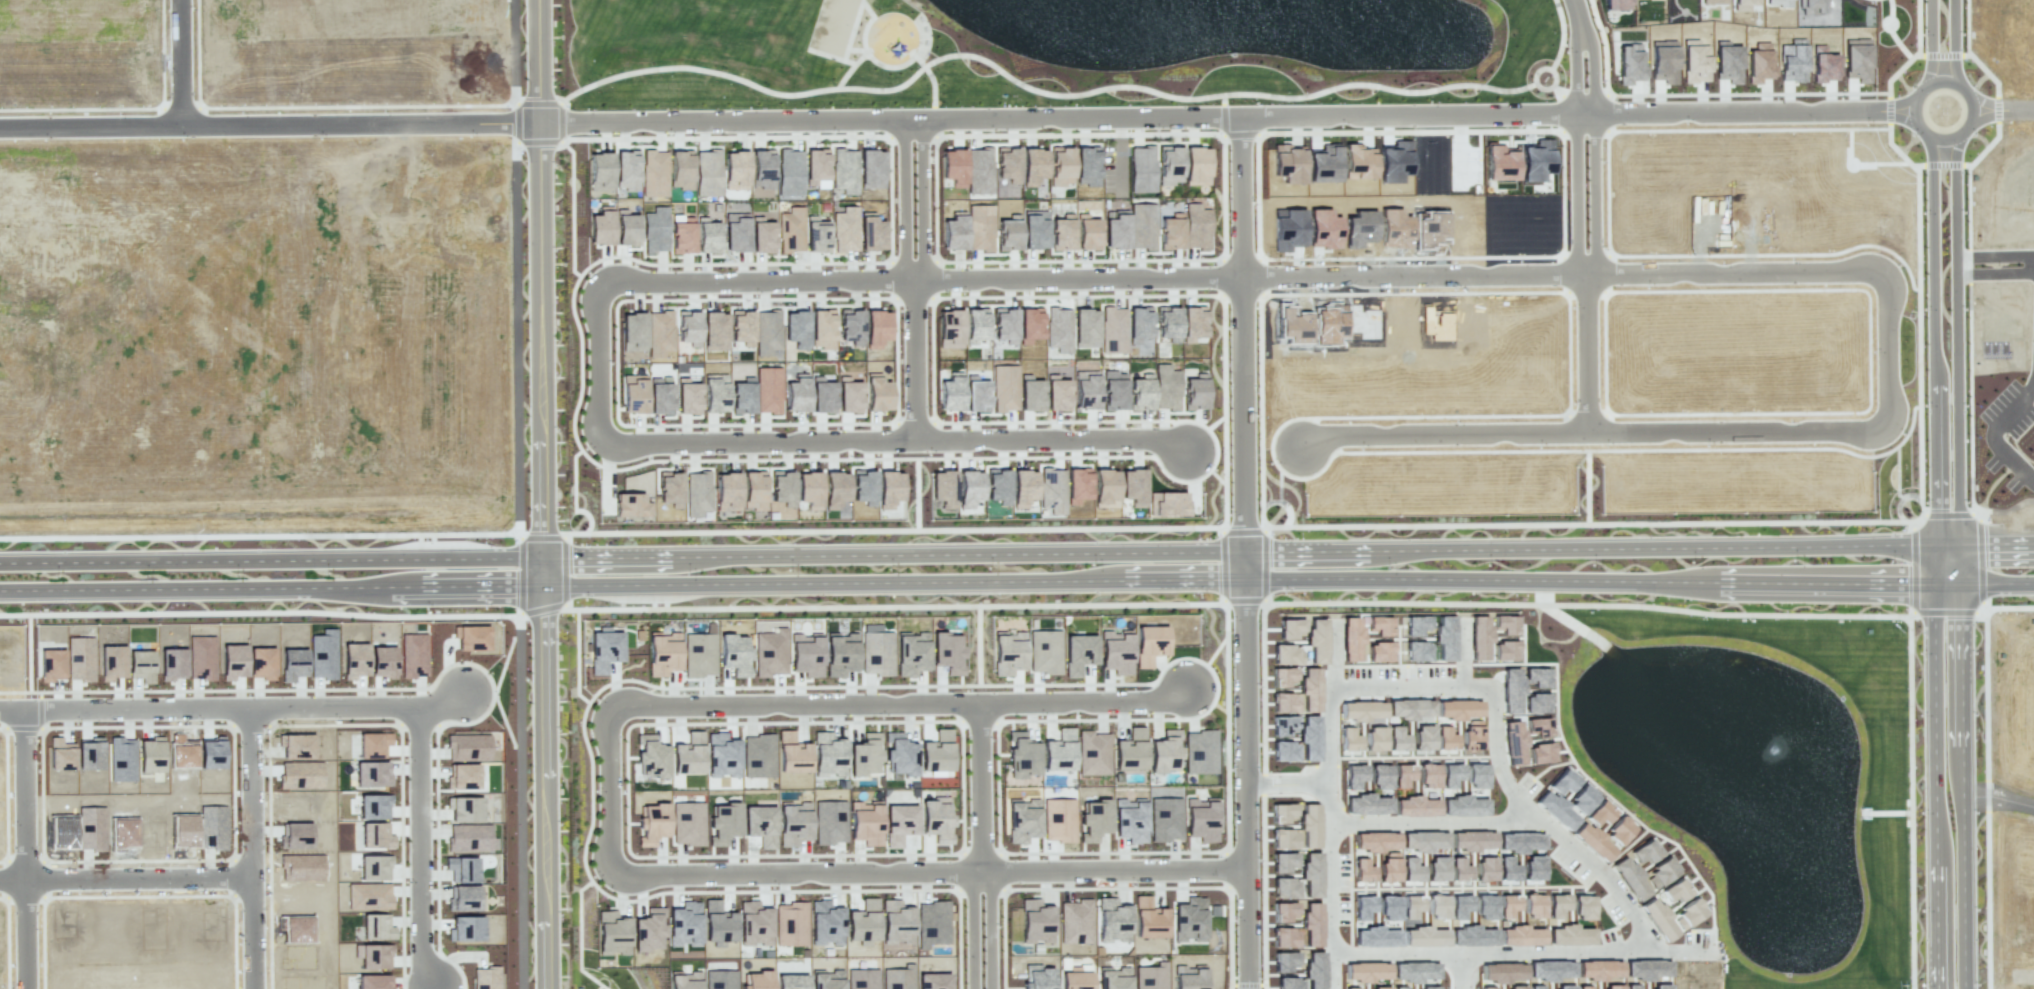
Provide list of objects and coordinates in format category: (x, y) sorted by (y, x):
building: (1713, 1)
building: (1777, 3)
building: (1616, 4)
building: (1743, 4)
building: (1811, 7)
road: (1931, 40)
road: (1953, 40)
road: (1585, 57)
building: (1856, 59)
building: (1792, 60)
building: (1663, 61)
building: (1694, 61)
building: (1727, 62)
building: (1758, 63)
road: (180, 64)
building: (1823, 64)
building: (1628, 65)
road: (1973, 110)
road: (2003, 112)
road: (1224, 119)
road: (268, 127)
building: (1536, 159)
building: (1358, 161)
building: (1394, 161)
building: (1500, 162)
building: (1288, 163)
building: (1323, 163)
building: (1007, 164)
building: (1086, 165)
building: (1169, 165)
building: (953, 166)
building: (1033, 166)
building: (1195, 166)
building: (816, 167)
building: (626, 168)
building: (680, 168)
building: (762, 168)
building: (871, 169)
building: (1142, 169)
building: (736, 170)
building: (980, 170)
building: (600, 171)
building: (845, 171)
building: (654, 173)
building: (708, 173)
building: (790, 173)
building: (1061, 174)
road: (1953, 198)
building: (601, 226)
building: (1142, 226)
building: (1196, 226)
building: (980, 227)
building: (626, 228)
building: (1359, 228)
building: (1394, 228)
building: (791, 229)
building: (845, 229)
building: (1034, 229)
building: (1115, 229)
building: (1287, 229)
building: (1323, 229)
building: (655, 230)
building: (1086, 230)
building: (871, 232)
building: (954, 232)
building: (1171, 232)
building: (682, 234)
building: (736, 234)
building: (816, 234)
building: (1008, 234)
building: (1062, 234)
building: (708, 236)
building: (764, 239)
road: (1993, 257)
road: (1737, 271)
road: (1587, 273)
road: (1993, 274)
road: (1413, 276)
road: (919, 284)
road: (1079, 285)
road: (760, 292)
building: (765, 322)
building: (1138, 323)
building: (1193, 323)
building: (1029, 324)
building: (1167, 324)
building: (975, 325)
building: (1293, 325)
building: (1328, 325)
building: (742, 326)
building: (850, 326)
building: (1003, 326)
building: (687, 327)
building: (716, 328)
building: (796, 328)
building: (876, 328)
building: (822, 329)
building: (949, 329)
building: (1058, 329)
building: (1113, 329)
building: (1087, 330)
building: (633, 331)
building: (660, 332)
road: (1889, 349)
road: (602, 374)
building: (1004, 388)
building: (1085, 389)
building: (1155, 389)
building: (768, 390)
building: (1113, 390)
building: (950, 392)
building: (1195, 392)
building: (634, 393)
building: (877, 393)
building: (1030, 393)
building: (1056, 393)
building: (715, 394)
building: (660, 395)
building: (796, 395)
building: (849, 395)
building: (976, 395)
building: (742, 396)
building: (823, 396)
building: (687, 397)
road: (1739, 430)
road: (1443, 434)
road: (1993, 435)
road: (1058, 448)
road: (762, 451)
building: (1077, 484)
building: (997, 485)
building: (863, 486)
building: (1133, 486)
building: (782, 487)
building: (1023, 487)
building: (1105, 487)
building: (670, 488)
building: (888, 488)
building: (942, 488)
building: (968, 488)
building: (809, 489)
building: (834, 489)
building: (753, 490)
building: (1052, 490)
building: (727, 491)
building: (697, 493)
road: (542, 494)
building: (1167, 504)
building: (632, 505)
road: (1017, 551)
road: (1244, 553)
road: (1930, 564)
road: (980, 581)
road: (1997, 583)
road: (1959, 623)
building: (1504, 624)
building: (1378, 625)
building: (1415, 625)
building: (1289, 628)
building: (471, 637)
building: (1478, 637)
building: (1349, 638)
building: (1444, 638)
building: (1315, 641)
building: (1149, 644)
building: (604, 650)
building: (1504, 650)
building: (876, 651)
building: (1044, 651)
building: (1115, 651)
building: (1378, 651)
building: (1416, 651)
building: (770, 652)
building: (947, 652)
building: (1007, 652)
building: (662, 653)
building: (840, 653)
building: (1078, 653)
building: (323, 654)
building: (700, 654)
building: (734, 654)
building: (806, 654)
building: (910, 654)
building: (1285, 654)
building: (413, 655)
building: (201, 657)
building: (80, 658)
building: (353, 660)
building: (232, 661)
building: (382, 661)
building: (112, 662)
building: (261, 662)
building: (172, 663)
building: (51, 664)
building: (293, 664)
building: (140, 665)
building: (1282, 676)
building: (1536, 677)
road: (1405, 684)
building: (1308, 690)
building: (1510, 690)
road: (11, 702)
road: (139, 702)
building: (1282, 702)
road: (358, 705)
building: (1410, 708)
building: (1458, 709)
building: (1361, 710)
road: (1090, 713)
road: (800, 716)
building: (1282, 725)
road: (1327, 734)
building: (1308, 737)
building: (1471, 737)
building: (1422, 738)
building: (1445, 738)
building: (1348, 739)
building: (1396, 739)
building: (1513, 742)
building: (372, 744)
building: (296, 746)
building: (468, 747)
building: (1130, 750)
building: (182, 751)
building: (1163, 751)
building: (1200, 751)
building: (1283, 751)
building: (211, 752)
building: (936, 752)
building: (1059, 752)
building: (1092, 752)
building: (89, 753)
building: (828, 753)
building: (899, 753)
building: (60, 754)
building: (688, 754)
building: (792, 754)
building: (1022, 754)
building: (150, 755)
building: (721, 755)
building: (758, 755)
building: (864, 755)
building: (651, 757)
building: (122, 759)
building: (371, 773)
building: (300, 774)
building: (1450, 774)
building: (1353, 775)
building: (1401, 775)
building: (1427, 775)
building: (1476, 775)
building: (462, 776)
building: (1379, 776)
road: (1285, 783)
building: (1551, 797)
road: (1997, 800)
road: (616, 801)
building: (1366, 804)
building: (372, 806)
building: (1414, 806)
building: (1463, 806)
building: (464, 809)
building: (1281, 812)
building: (1599, 814)
building: (1164, 818)
building: (936, 819)
building: (1058, 819)
building: (1130, 819)
building: (1201, 819)
building: (1022, 820)
building: (1093, 820)
building: (723, 822)
building: (792, 822)
building: (830, 822)
building: (865, 822)
building: (652, 823)
building: (688, 823)
road: (1433, 823)
building: (899, 824)
building: (759, 825)
building: (1308, 826)
building: (213, 827)
road: (1545, 827)
building: (91, 828)
building: (184, 830)
building: (1618, 830)
building: (63, 831)
building: (123, 832)
building: (375, 835)
building: (295, 836)
building: (470, 838)
building: (1283, 838)
building: (1471, 840)
building: (1374, 841)
building: (1422, 841)
building: (1592, 841)
building: (1518, 842)
road: (25, 845)
road: (253, 845)
road: (419, 848)
road: (985, 852)
building: (1643, 852)
building: (1282, 861)
building: (372, 867)
building: (1388, 867)
building: (300, 868)
building: (1436, 868)
building: (1484, 868)
building: (1533, 868)
building: (461, 869)
road: (1329, 869)
road: (1114, 870)
building: (1362, 870)
building: (1410, 870)
building: (1458, 870)
building: (1660, 873)
building: (1310, 874)
road: (801, 878)
building: (1629, 878)
road: (126, 882)
building: (1284, 888)
building: (1674, 891)
building: (368, 897)
building: (463, 898)
building: (1506, 904)
building: (1410, 905)
building: (1459, 905)
building: (1533, 905)
building: (1556, 905)
building: (1484, 906)
building: (1582, 906)
building: (1362, 907)
building: (1389, 907)
building: (1437, 907)
building: (1283, 911)
building: (1688, 914)
building: (1148, 918)
building: (1189, 919)
building: (1657, 919)
building: (1112, 920)
building: (1035, 921)
building: (1075, 921)
building: (862, 922)
building: (896, 922)
building: (718, 923)
building: (754, 923)
building: (825, 923)
building: (932, 923)
building: (1311, 923)
building: (684, 924)
building: (790, 924)
building: (376, 927)
building: (465, 928)
building: (297, 929)
building: (648, 929)
building: (612, 932)
building: (1472, 935)
building: (1520, 935)
building: (1569, 935)
building: (1424, 936)
building: (1284, 937)
building: (1375, 937)
road: (1518, 953)
building: (372, 955)
building: (1284, 961)
building: (1646, 968)
building: (1549, 969)
building: (1597, 969)
building: (1313, 970)
building: (1365, 971)
building: (1414, 971)
road: (1457, 971)
building: (1500, 972)
road: (1999, 975)
building: (897, 976)
building: (1150, 976)
building: (1037, 977)
building: (1188, 977)
building: (862, 978)
building: (1113, 978)
building: (493, 979)
building: (720, 979)
building: (826, 979)
building: (684, 980)
building: (757, 980)
building: (1075, 980)
building: (373, 981)
building: (933, 981)
building: (790, 982)
building: (1288, 983)
building: (1630, 986)
building: (1661, 986)
building: (1379, 987)
building: (1398, 987)
building: (1427, 987)
building: (1486, 987)
building: (1516, 987)
building: (1533, 987)
building: (1564, 987)
building: (1582, 987)
building: (1612, 987)
building: (1350, 988)

